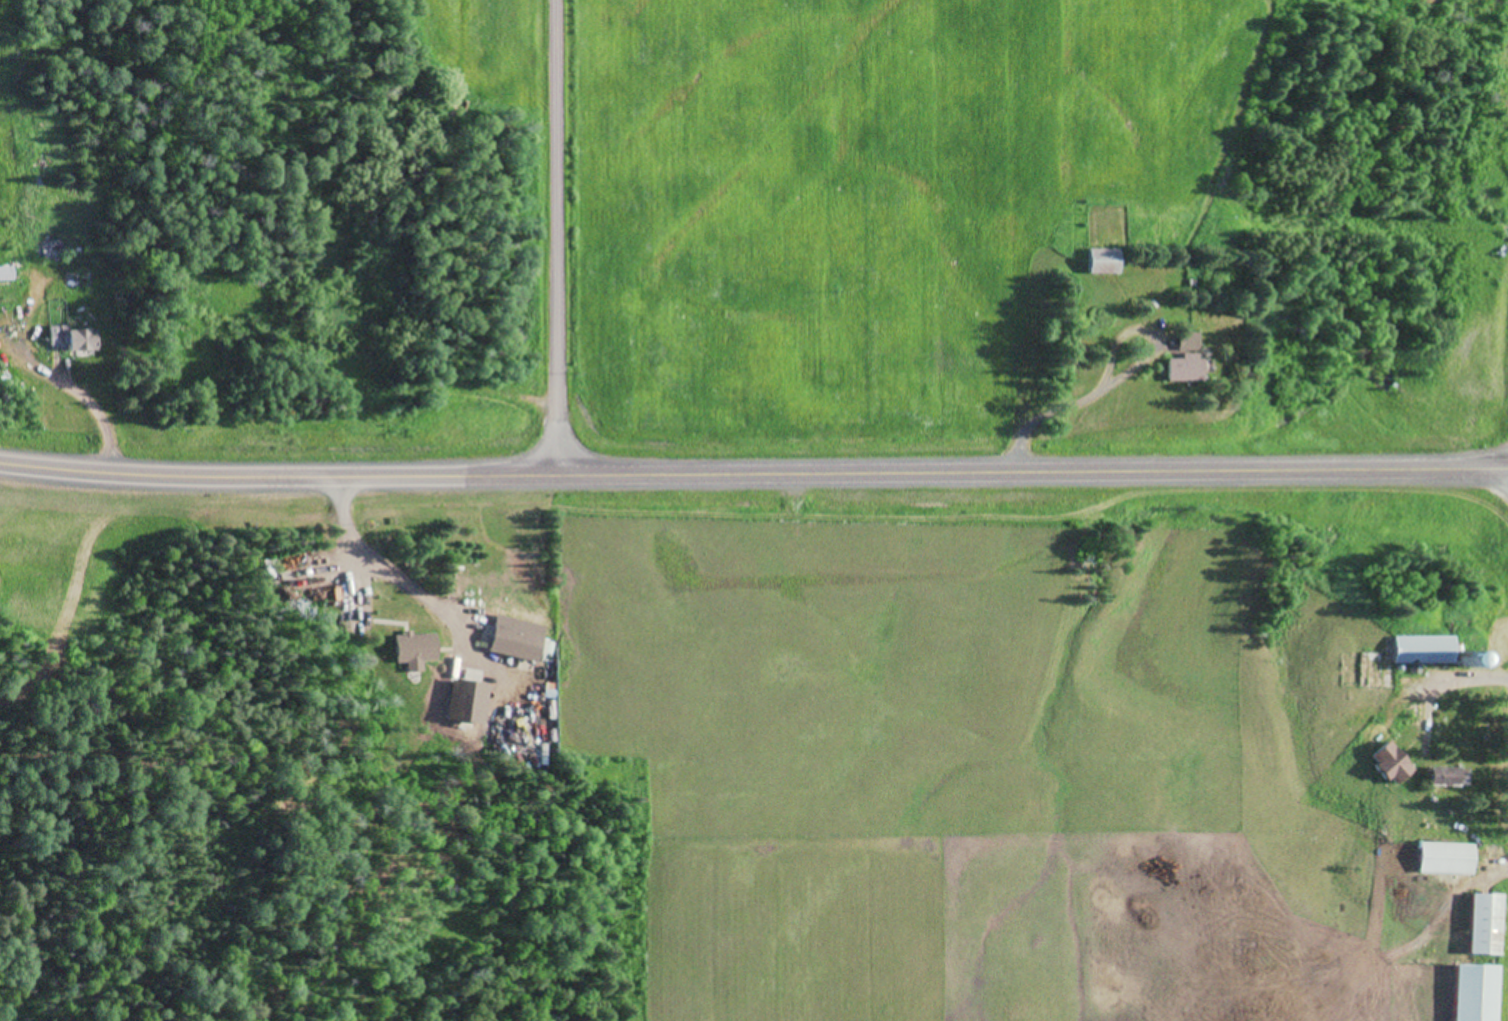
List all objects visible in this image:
crop: (1498, 0)
crop: (857, 208)
road: (555, 238)
building: (48, 250)
building: (1096, 261)
building: (3, 275)
building: (65, 338)
building: (1181, 342)
building: (1179, 369)
road: (753, 473)
building: (499, 641)
building: (408, 648)
building: (1419, 651)
building: (1444, 777)
building: (1439, 859)
building: (1478, 925)
building: (1469, 993)

